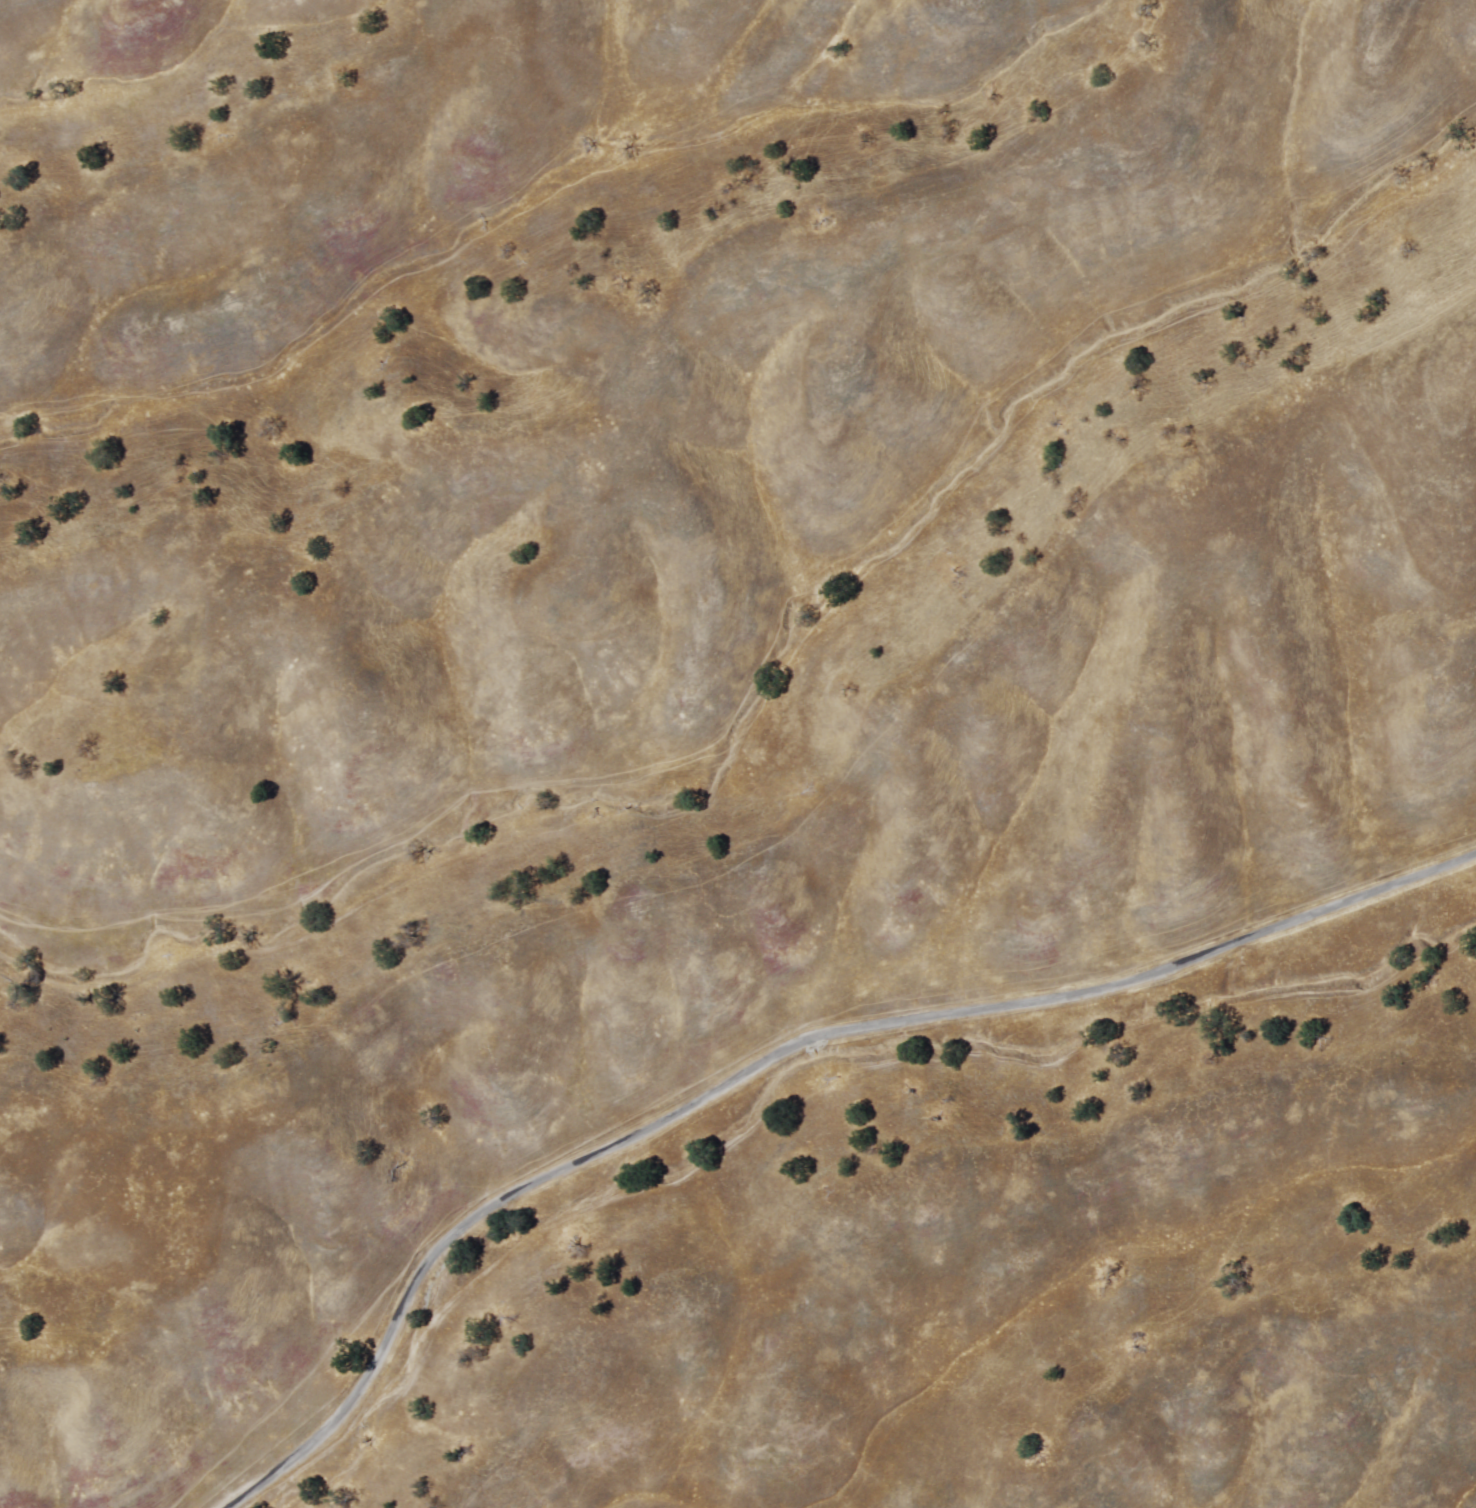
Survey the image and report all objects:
road: (776, 1056)

